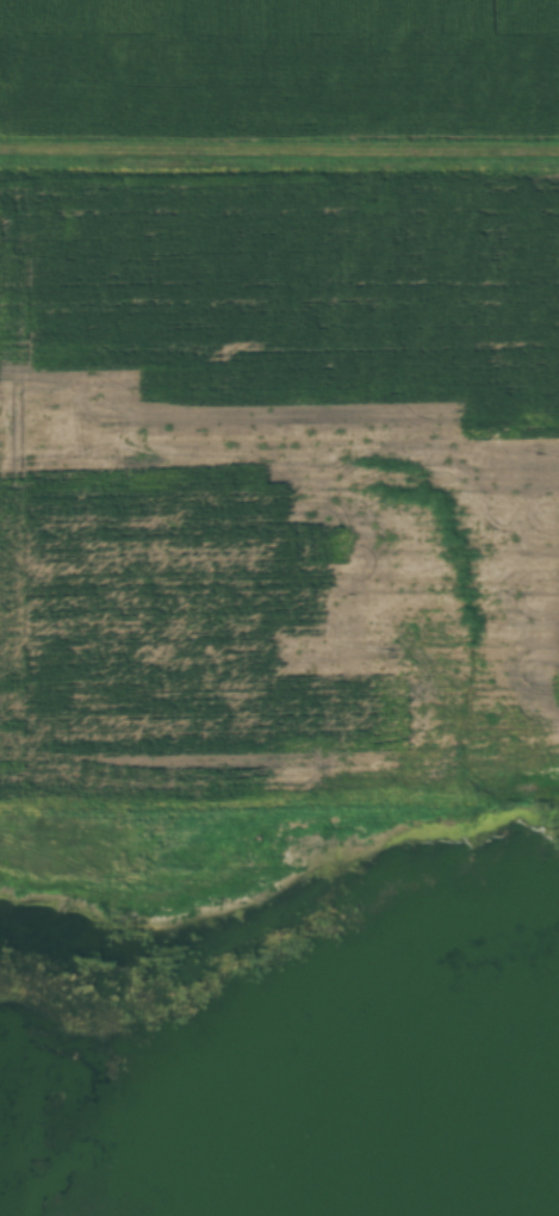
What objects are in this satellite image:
road: (279, 144)

